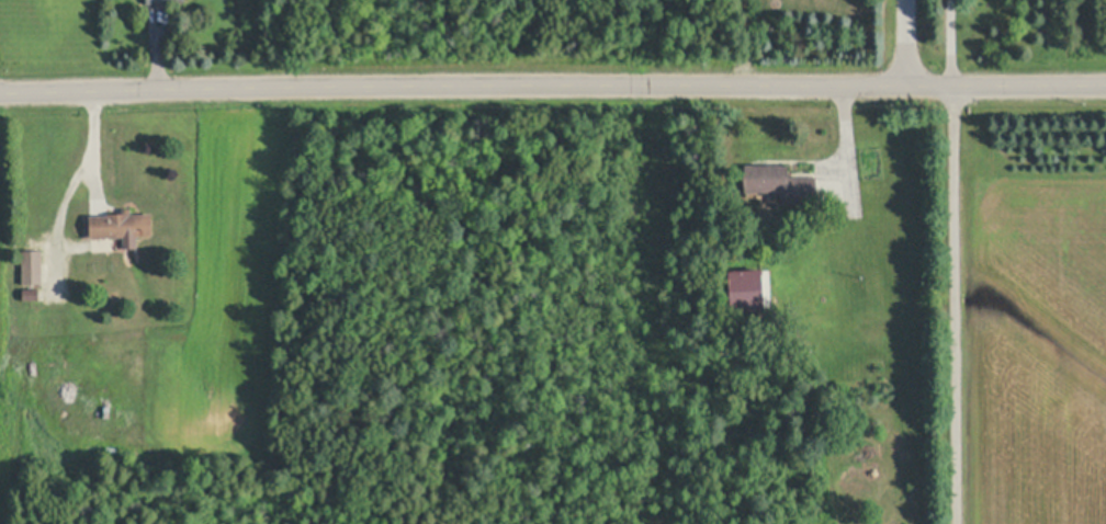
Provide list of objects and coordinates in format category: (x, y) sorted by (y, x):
building: (157, 0)
road: (906, 43)
road: (552, 87)
building: (783, 180)
building: (122, 227)
road: (953, 262)
building: (33, 265)
building: (747, 286)
building: (32, 294)

